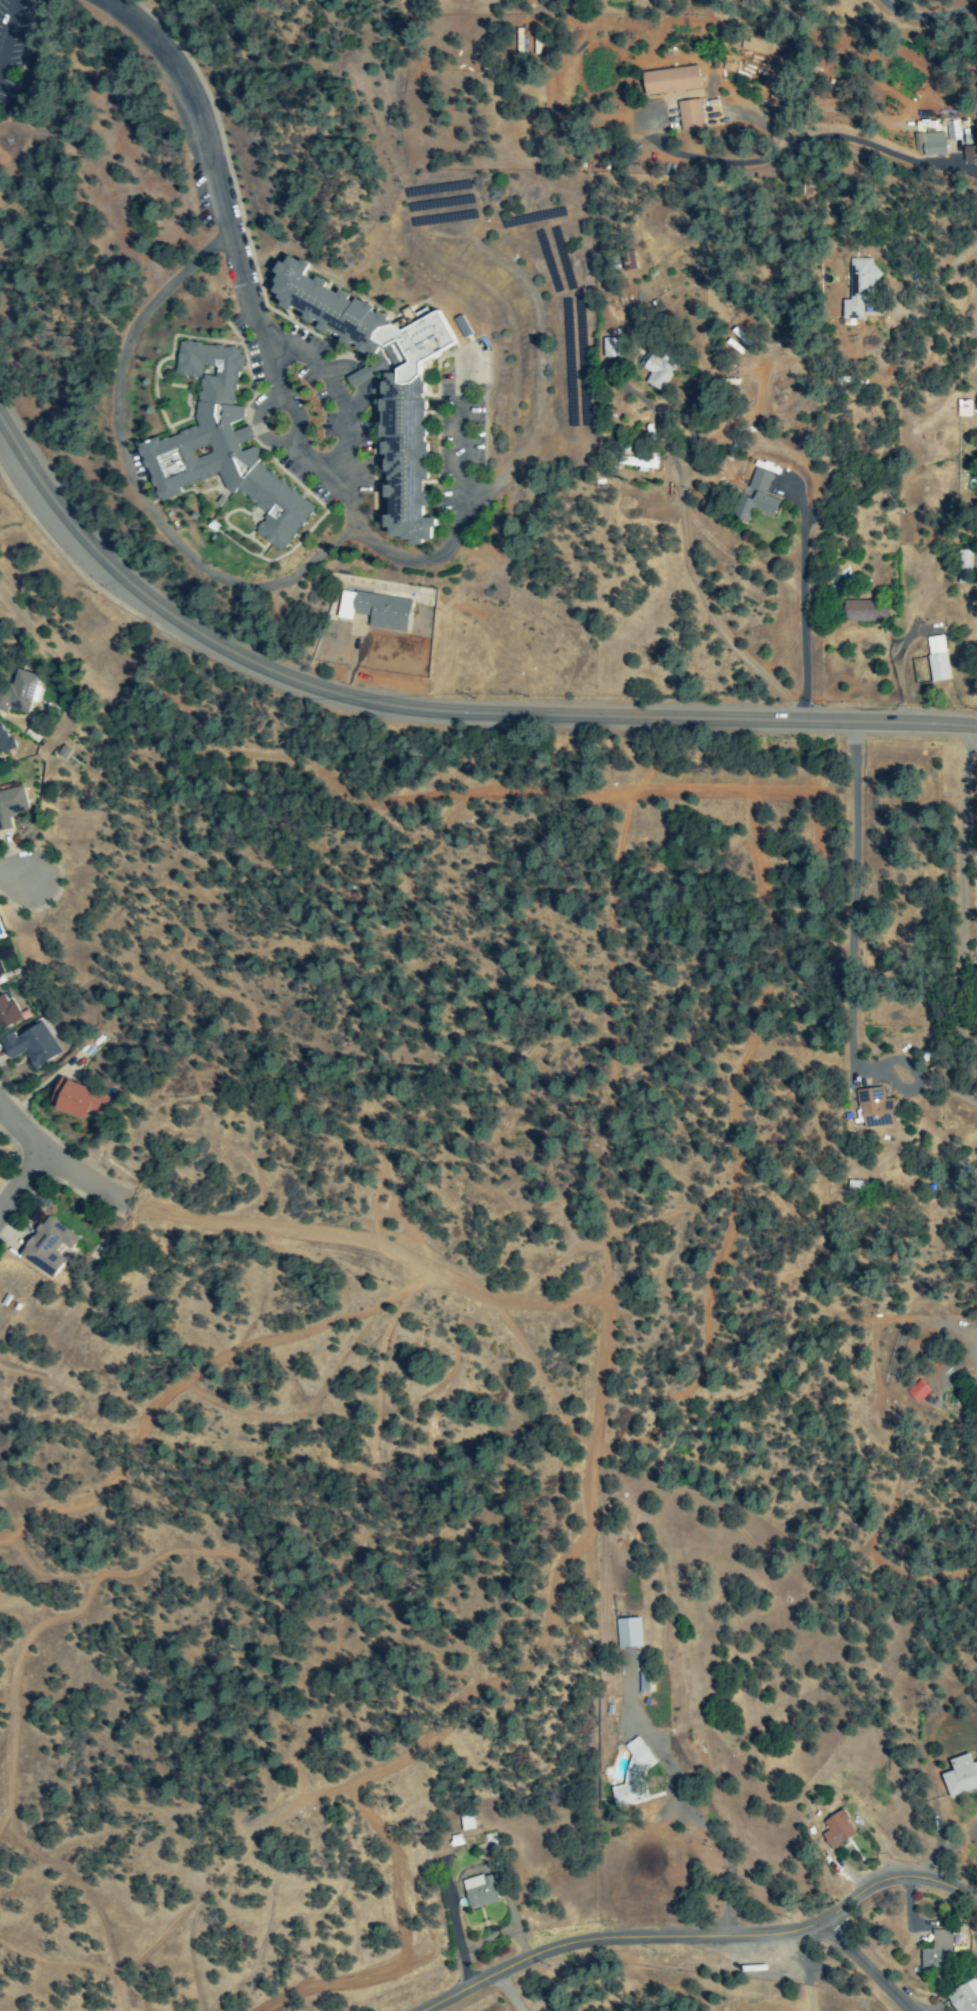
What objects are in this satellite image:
road: (924, 11)
building: (765, 54)
building: (670, 81)
road: (190, 99)
building: (689, 115)
building: (929, 145)
building: (857, 288)
building: (610, 348)
building: (656, 373)
building: (361, 376)
building: (402, 433)
building: (222, 448)
building: (755, 497)
building: (963, 567)
road: (252, 587)
road: (796, 601)
building: (374, 611)
building: (865, 611)
building: (936, 659)
building: (18, 693)
road: (431, 708)
building: (4, 741)
building: (62, 753)
building: (11, 807)
road: (11, 867)
road: (845, 894)
road: (957, 918)
building: (1, 977)
building: (7, 1013)
building: (30, 1045)
building: (77, 1100)
building: (874, 1109)
road: (57, 1159)
road: (23, 1182)
building: (47, 1247)
building: (917, 1391)
building: (628, 1633)
building: (631, 1776)
building: (960, 1776)
building: (836, 1830)
road: (725, 1851)
road: (956, 1860)
building: (478, 1892)
road: (703, 1938)
building: (935, 1950)
road: (867, 1966)
road: (695, 1973)
road: (510, 1992)
building: (964, 1997)

